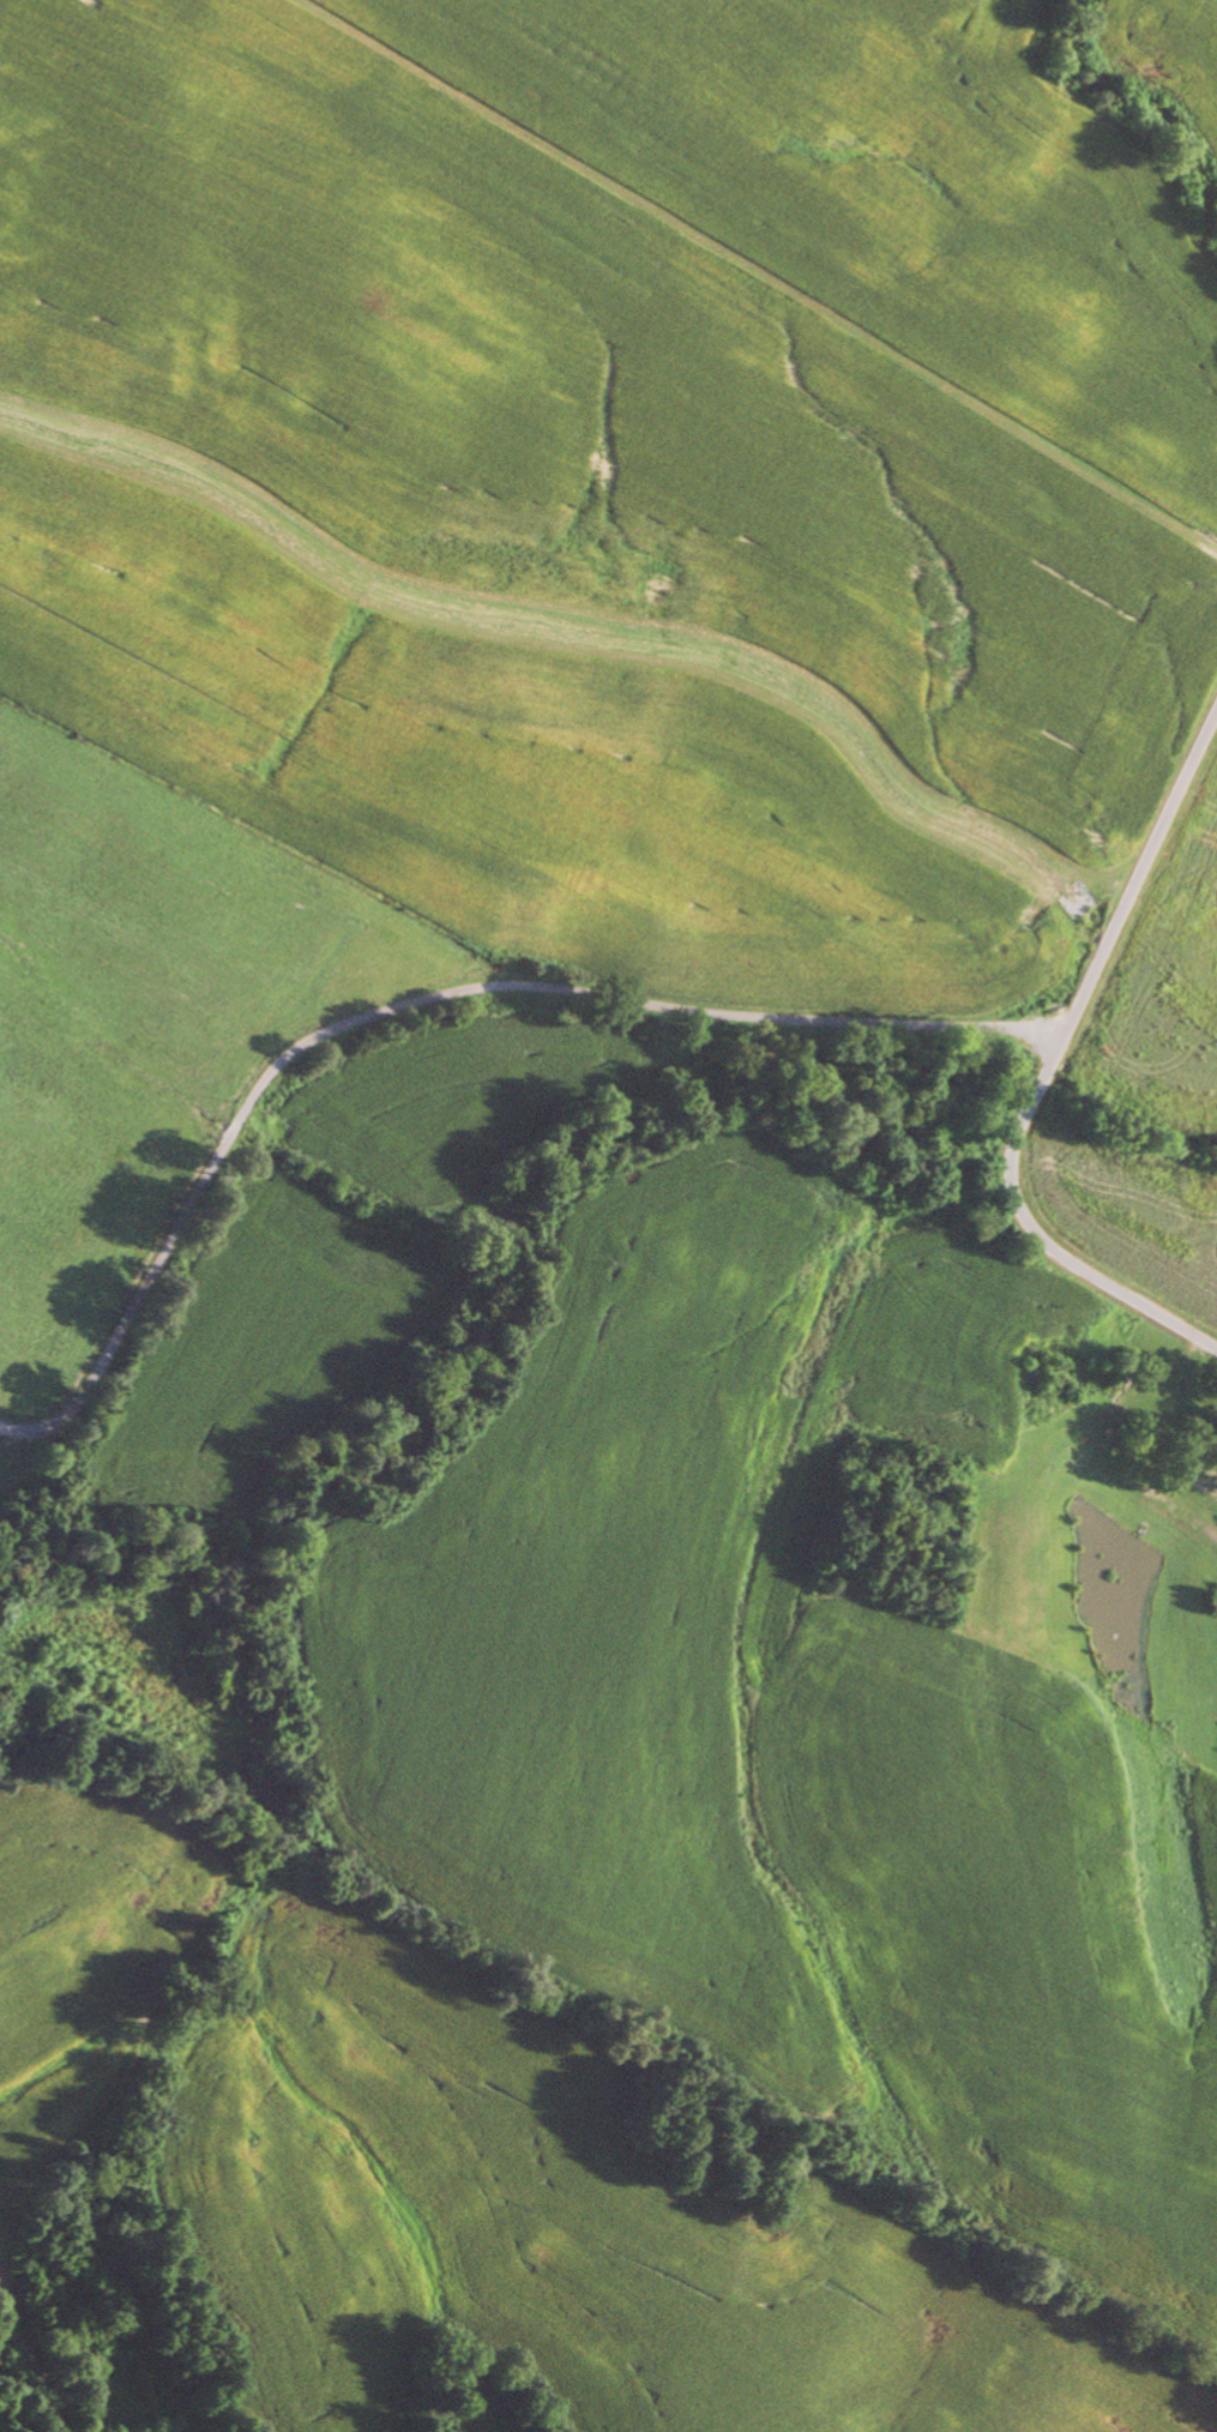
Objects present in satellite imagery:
road: (428, 999)
road: (1046, 1071)

